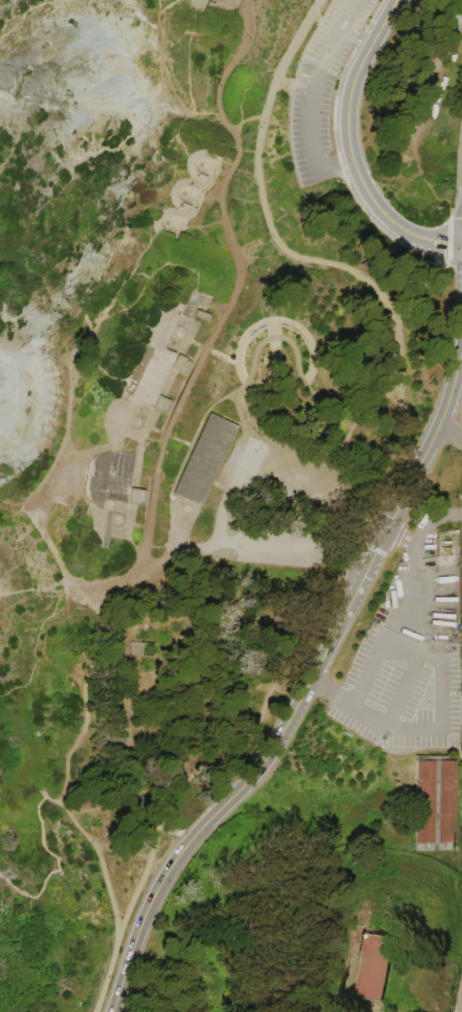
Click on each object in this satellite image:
building: (211, 4)
road: (348, 12)
road: (324, 22)
road: (357, 33)
road: (292, 85)
parking lot: (321, 89)
road: (420, 111)
road: (308, 114)
road: (246, 118)
road: (350, 148)
road: (337, 151)
road: (214, 170)
road: (215, 171)
road: (218, 187)
building: (185, 194)
road: (202, 197)
road: (198, 200)
road: (199, 200)
road: (164, 212)
road: (188, 213)
road: (268, 221)
road: (182, 229)
road: (446, 237)
road: (453, 262)
road: (442, 263)
road: (127, 282)
road: (236, 291)
road: (138, 294)
road: (189, 307)
road: (212, 310)
road: (128, 314)
road: (426, 314)
road: (275, 320)
road: (273, 322)
road: (187, 328)
road: (273, 334)
road: (182, 341)
road: (203, 346)
road: (209, 350)
road: (157, 351)
road: (254, 359)
road: (231, 361)
road: (460, 361)
road: (157, 392)
road: (349, 409)
building: (138, 417)
road: (137, 433)
road: (162, 433)
road: (449, 435)
road: (169, 436)
road: (186, 444)
building: (204, 459)
road: (244, 468)
road: (176, 474)
road: (285, 490)
road: (40, 495)
park: (231, 506)
parking lot: (276, 511)
road: (358, 514)
road: (444, 515)
road: (223, 518)
road: (145, 526)
road: (424, 534)
road: (403, 535)
road: (268, 547)
road: (388, 553)
road: (157, 562)
road: (418, 585)
road: (385, 625)
road: (332, 634)
road: (449, 648)
building: (141, 649)
road: (427, 651)
parking lot: (406, 657)
road: (409, 664)
road: (276, 670)
road: (29, 691)
road: (147, 692)
road: (330, 693)
road: (439, 695)
road: (393, 726)
road: (451, 743)
road: (66, 756)
road: (31, 764)
road: (48, 798)
building: (439, 803)
road: (44, 845)
road: (121, 851)
road: (9, 881)
road: (131, 952)
building: (372, 968)
road: (105, 972)

